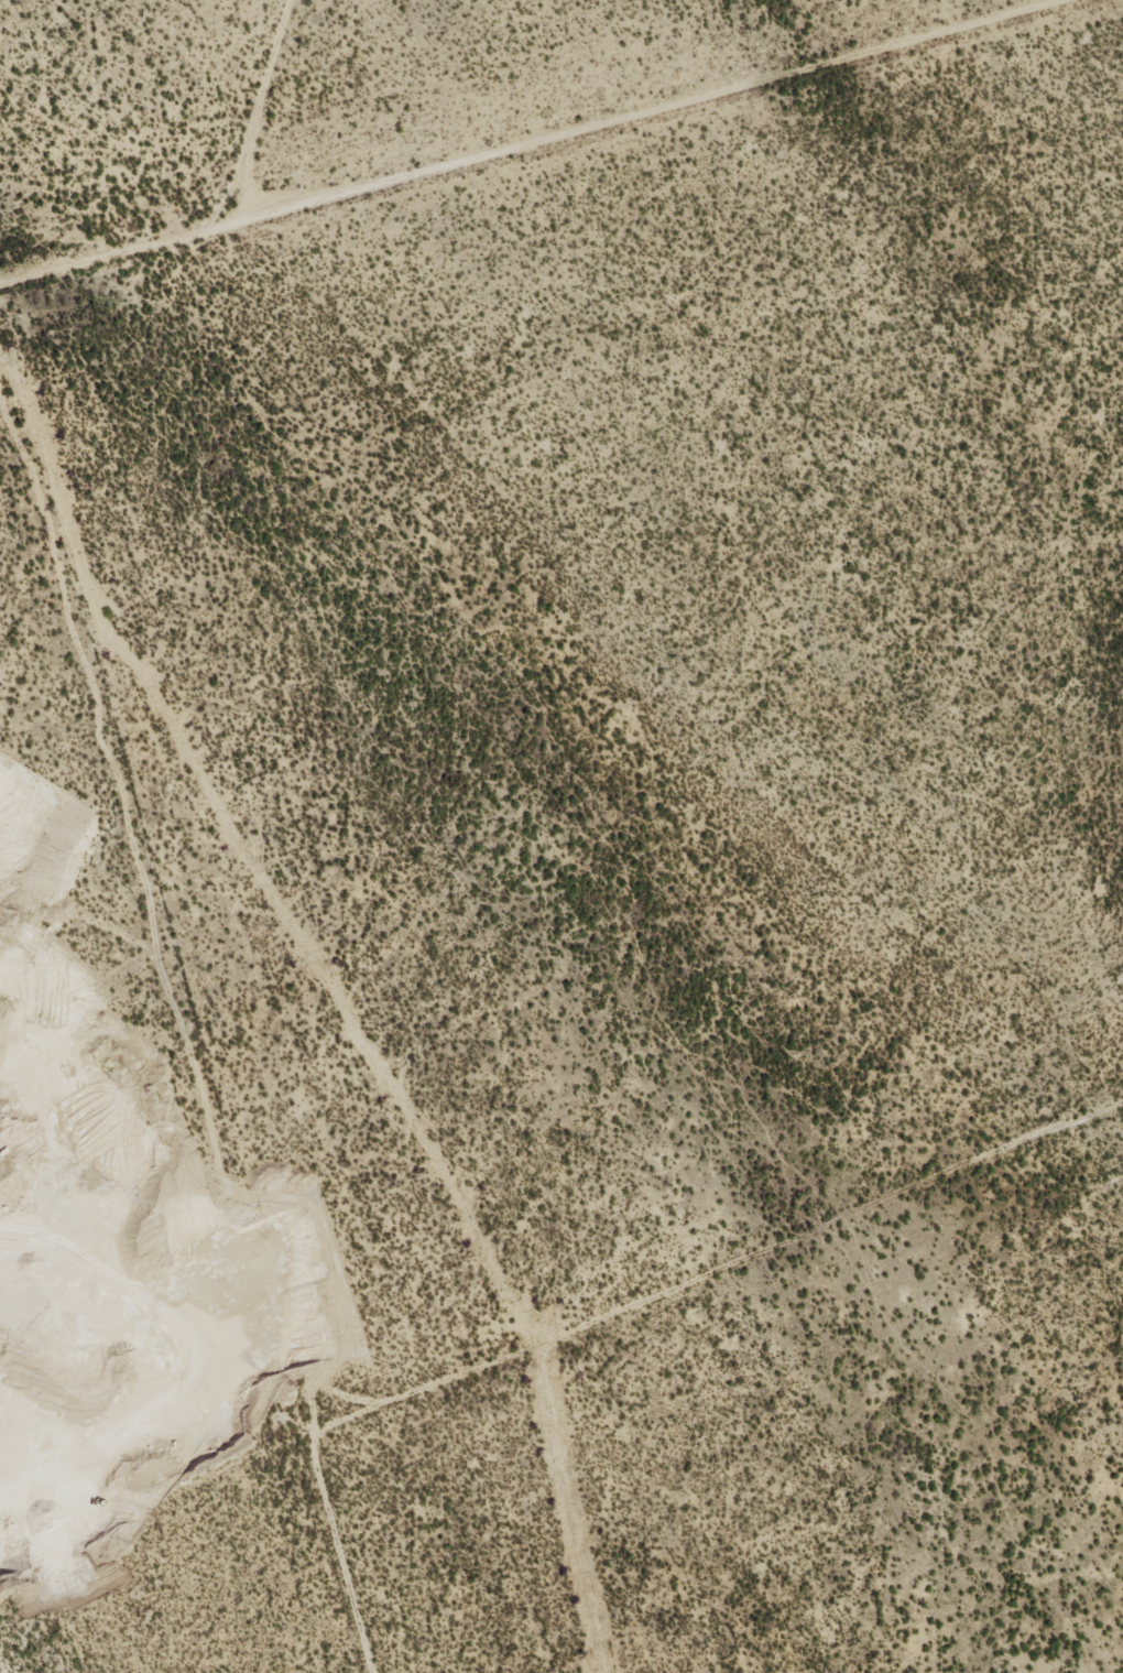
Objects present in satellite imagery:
road: (623, 118)
road: (222, 220)
road: (188, 1000)
road: (558, 1319)
road: (868, 1464)

